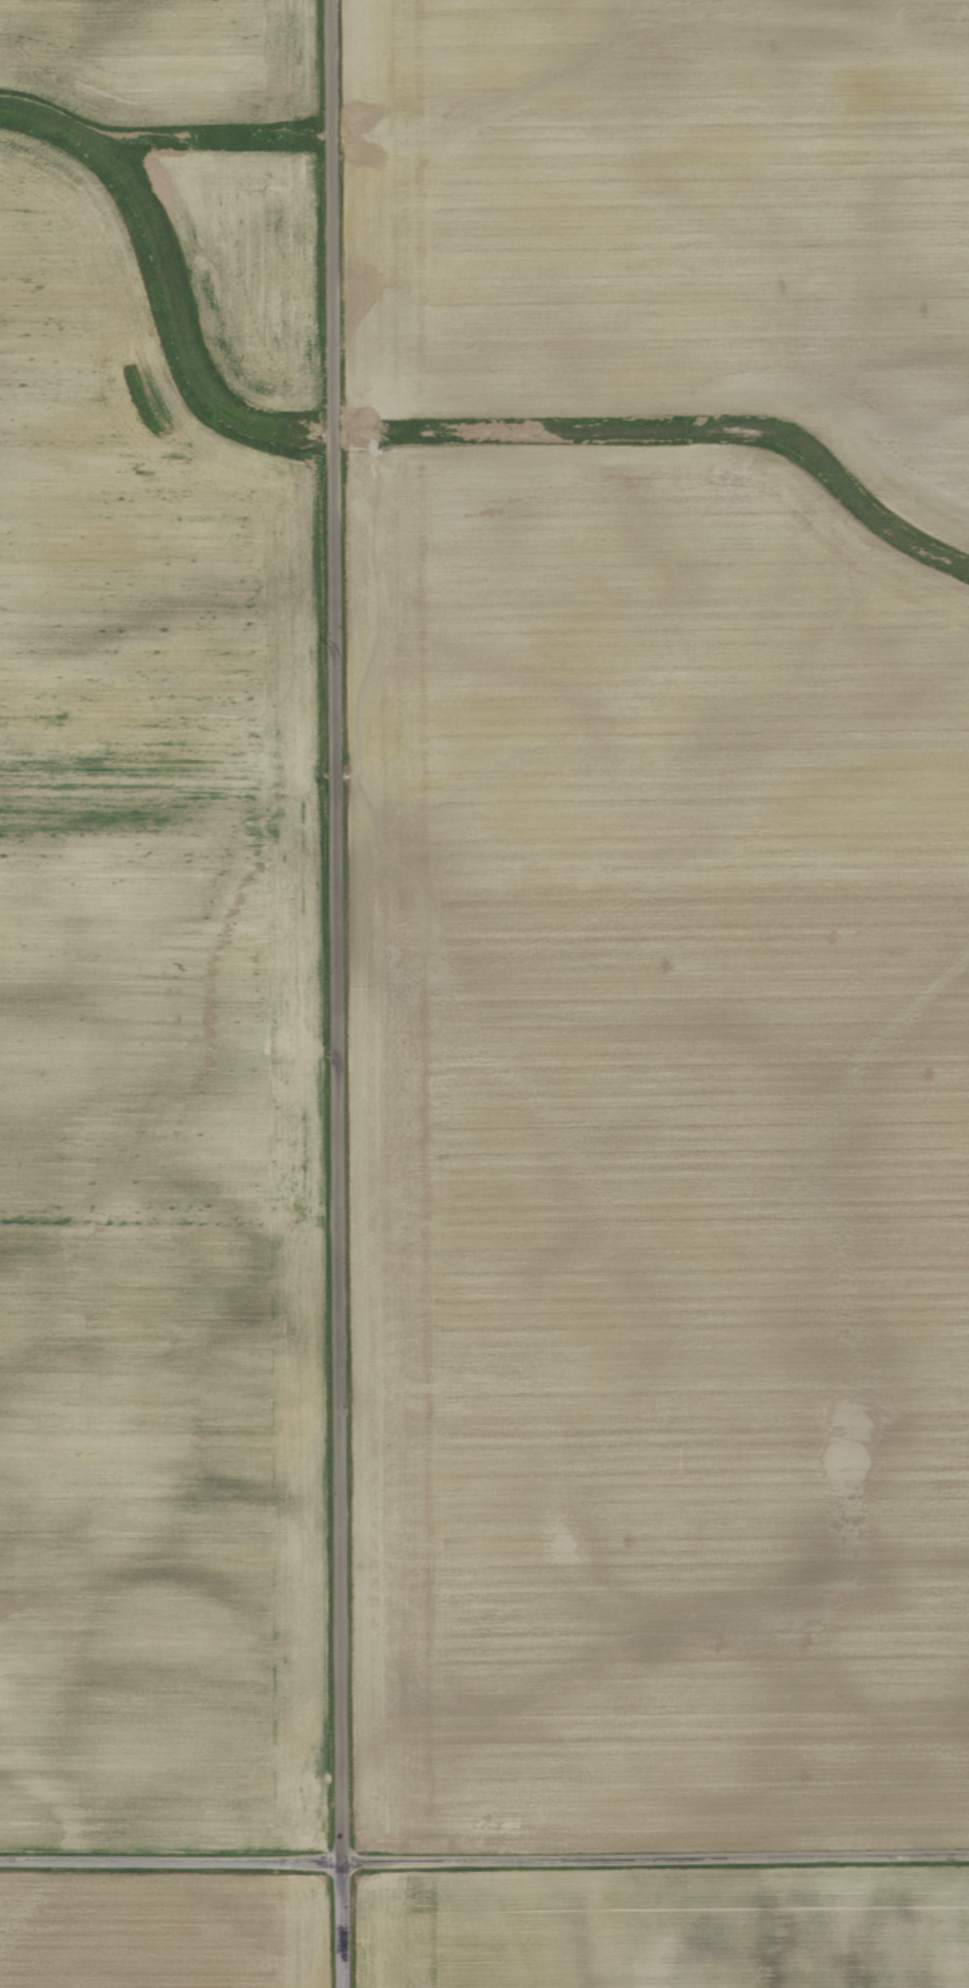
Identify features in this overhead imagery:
road: (331, 993)
road: (653, 1856)
road: (168, 1858)

